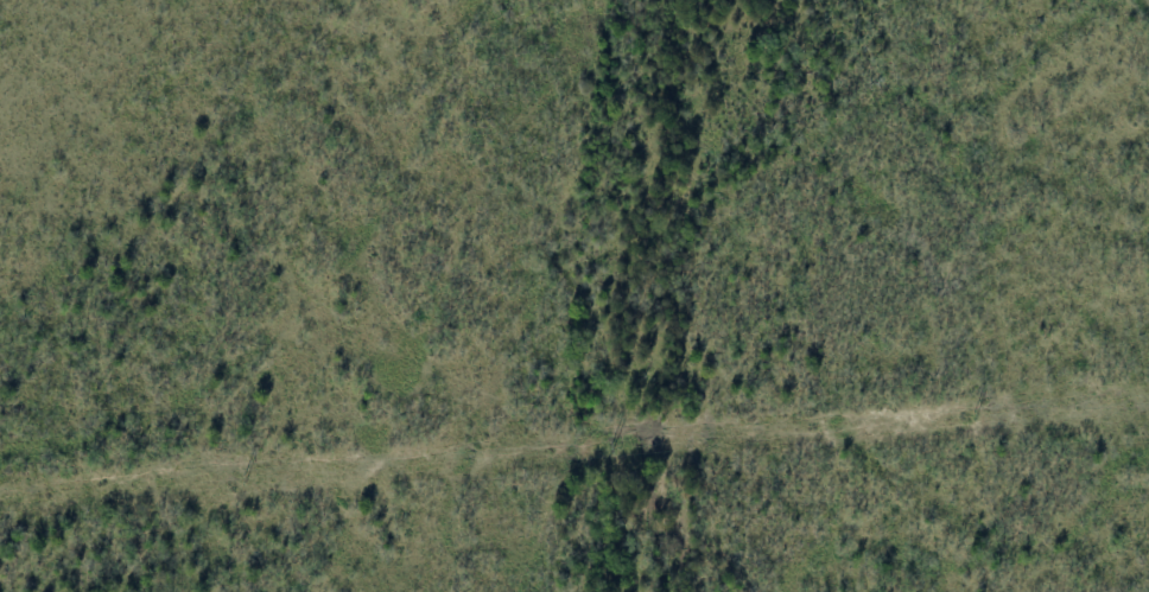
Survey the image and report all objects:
power tower: (977, 415)
power tower: (611, 448)
power tower: (246, 477)

